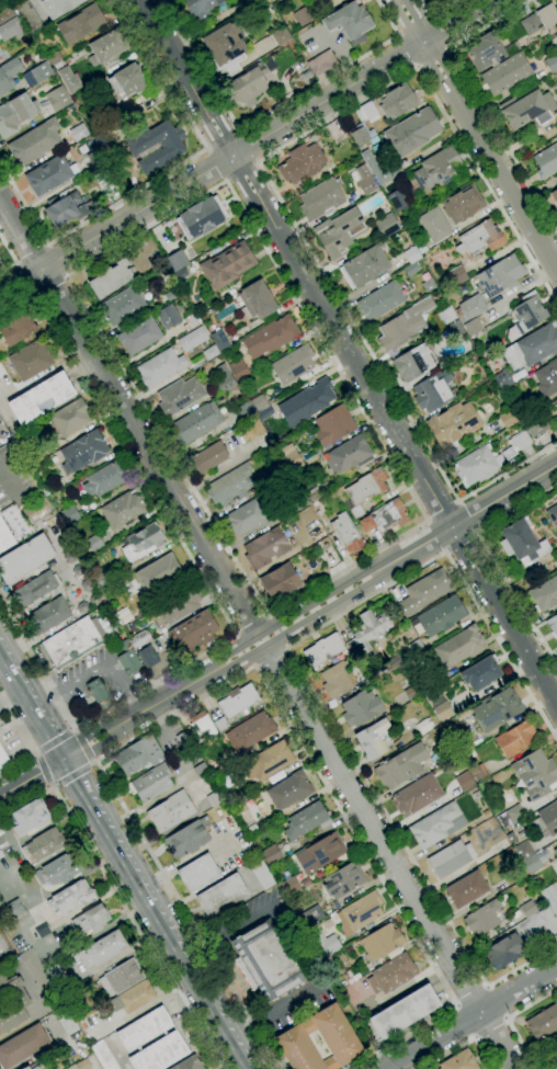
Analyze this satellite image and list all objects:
building: (441, 1)
building: (58, 7)
building: (201, 9)
road: (435, 13)
building: (5, 14)
building: (27, 15)
building: (303, 15)
building: (547, 15)
building: (350, 22)
building: (80, 24)
building: (531, 24)
road: (412, 26)
building: (9, 29)
road: (439, 33)
building: (278, 34)
building: (106, 47)
building: (225, 47)
road: (406, 52)
building: (485, 52)
building: (53, 58)
road: (432, 59)
building: (321, 62)
building: (552, 62)
building: (505, 73)
building: (9, 75)
building: (37, 75)
building: (305, 76)
building: (68, 79)
building: (127, 81)
building: (248, 86)
building: (57, 99)
road: (477, 100)
building: (397, 101)
building: (527, 109)
road: (271, 111)
building: (366, 112)
building: (15, 113)
road: (478, 130)
building: (78, 133)
building: (411, 133)
building: (361, 134)
building: (101, 139)
road: (221, 140)
building: (34, 143)
building: (156, 146)
road: (248, 146)
road: (246, 148)
building: (95, 157)
building: (546, 161)
building: (302, 162)
building: (372, 164)
road: (214, 166)
building: (436, 169)
road: (241, 172)
building: (49, 174)
road: (160, 177)
building: (103, 178)
building: (364, 180)
road: (271, 183)
building: (554, 196)
building: (321, 198)
building: (397, 201)
building: (462, 204)
building: (66, 209)
building: (201, 218)
building: (387, 225)
building: (434, 225)
building: (339, 232)
building: (480, 238)
road: (8, 249)
road: (32, 254)
building: (411, 254)
road: (57, 260)
building: (175, 261)
road: (299, 262)
building: (226, 265)
building: (364, 266)
road: (8, 269)
building: (411, 270)
building: (181, 274)
building: (457, 275)
building: (500, 276)
building: (111, 278)
road: (24, 280)
building: (427, 284)
road: (50, 286)
building: (257, 300)
building: (379, 302)
road: (16, 304)
building: (122, 306)
building: (471, 307)
building: (528, 312)
building: (168, 317)
building: (444, 317)
building: (190, 322)
building: (403, 325)
building: (18, 328)
building: (473, 328)
building: (456, 329)
building: (139, 336)
building: (270, 337)
building: (192, 340)
building: (219, 340)
building: (532, 346)
building: (211, 352)
building: (30, 361)
building: (413, 362)
building: (293, 364)
building: (160, 367)
building: (239, 369)
building: (225, 378)
building: (546, 378)
building: (502, 379)
building: (433, 391)
building: (179, 396)
building: (315, 397)
building: (41, 398)
building: (556, 398)
building: (259, 402)
building: (273, 408)
building: (243, 410)
road: (129, 416)
building: (69, 418)
building: (508, 419)
building: (196, 423)
building: (453, 423)
building: (332, 424)
building: (534, 424)
building: (516, 444)
building: (285, 450)
building: (82, 452)
building: (348, 455)
building: (208, 457)
building: (292, 460)
building: (477, 465)
building: (280, 468)
building: (105, 479)
road: (9, 482)
building: (231, 486)
building: (365, 487)
building: (314, 496)
road: (505, 496)
road: (441, 507)
building: (122, 509)
road: (518, 509)
building: (35, 511)
building: (356, 512)
building: (69, 514)
building: (553, 514)
building: (385, 516)
building: (246, 518)
road: (467, 518)
building: (318, 532)
building: (346, 534)
building: (4, 537)
road: (435, 537)
building: (143, 542)
building: (522, 543)
building: (92, 544)
road: (462, 544)
road: (181, 545)
building: (264, 548)
building: (24, 558)
building: (158, 573)
road: (356, 575)
building: (280, 582)
building: (35, 589)
road: (364, 589)
building: (424, 592)
building: (545, 594)
road: (518, 600)
building: (175, 606)
road: (269, 614)
road: (505, 614)
building: (48, 616)
building: (441, 616)
road: (251, 625)
building: (553, 625)
building: (102, 628)
building: (194, 632)
building: (367, 633)
building: (140, 639)
building: (72, 641)
building: (459, 647)
road: (235, 648)
building: (416, 648)
building: (322, 650)
building: (147, 657)
road: (270, 657)
road: (240, 658)
building: (127, 659)
road: (15, 660)
building: (395, 662)
road: (36, 666)
road: (93, 668)
road: (2, 670)
building: (480, 673)
road: (305, 679)
building: (336, 680)
building: (96, 691)
building: (411, 693)
road: (9, 697)
road: (30, 697)
building: (237, 701)
road: (157, 702)
road: (49, 707)
building: (361, 708)
building: (497, 709)
road: (30, 710)
building: (442, 710)
building: (202, 724)
building: (220, 725)
building: (423, 726)
road: (15, 727)
road: (73, 729)
building: (249, 732)
road: (89, 737)
building: (374, 739)
building: (515, 739)
road: (55, 742)
road: (81, 746)
road: (93, 746)
road: (76, 751)
traffic signals: (76, 751)
building: (447, 752)
road: (34, 753)
road: (70, 753)
building: (138, 755)
road: (307, 755)
building: (3, 758)
traffic signals: (59, 761)
road: (92, 761)
building: (266, 761)
road: (15, 762)
building: (400, 765)
road: (44, 769)
building: (200, 770)
road: (71, 772)
building: (479, 774)
building: (535, 774)
road: (69, 778)
road: (30, 780)
building: (464, 782)
building: (151, 783)
road: (52, 786)
building: (288, 791)
road: (102, 795)
building: (416, 796)
building: (476, 796)
building: (215, 798)
road: (25, 803)
building: (170, 811)
road: (98, 816)
building: (510, 816)
building: (30, 817)
building: (546, 820)
building: (306, 821)
building: (433, 826)
building: (1, 832)
building: (510, 838)
building: (187, 839)
building: (43, 846)
building: (523, 850)
building: (555, 852)
building: (320, 853)
building: (1, 855)
building: (271, 855)
road: (391, 856)
building: (451, 858)
road: (185, 861)
building: (531, 864)
building: (60, 869)
building: (198, 873)
building: (261, 874)
building: (343, 880)
building: (291, 886)
building: (466, 889)
building: (221, 896)
building: (71, 898)
building: (549, 898)
building: (527, 909)
building: (359, 913)
road: (187, 914)
building: (309, 917)
road: (128, 918)
building: (482, 918)
building: (90, 921)
building: (538, 923)
building: (42, 930)
road: (160, 933)
road: (175, 935)
building: (321, 942)
building: (382, 942)
building: (3, 947)
building: (101, 951)
building: (504, 952)
building: (265, 962)
building: (35, 970)
building: (54, 973)
building: (391, 975)
building: (121, 978)
road: (471, 996)
building: (133, 998)
road: (497, 1002)
building: (19, 1005)
road: (276, 1007)
building: (405, 1012)
road: (470, 1016)
road: (507, 1019)
building: (66, 1021)
road: (463, 1022)
building: (543, 1022)
road: (489, 1028)
building: (144, 1030)
building: (334, 1033)
road: (402, 1037)
road: (462, 1044)
building: (22, 1046)
building: (159, 1054)
building: (555, 1054)
building: (103, 1056)
road: (211, 1058)
road: (253, 1058)
road: (243, 1059)
building: (458, 1061)
building: (90, 1064)
building: (187, 1064)
building: (39, 1067)
building: (26, 1068)

